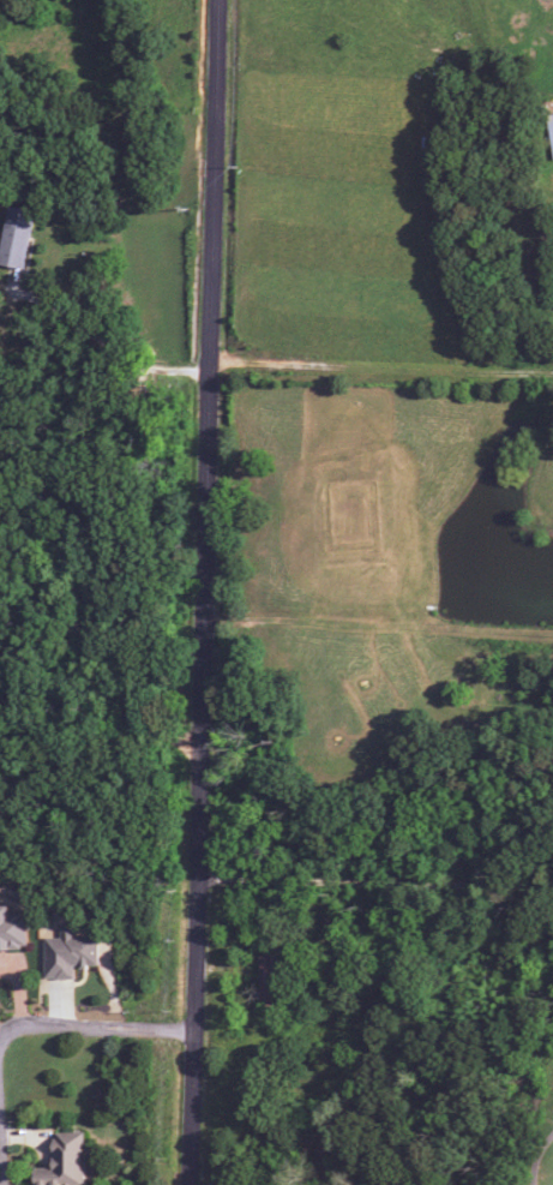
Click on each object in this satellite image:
road: (416, 55)
building: (549, 131)
building: (16, 238)
road: (203, 592)
road: (375, 881)
building: (12, 930)
building: (68, 954)
building: (269, 980)
road: (85, 1025)
park: (540, 1133)
road: (0, 1151)
building: (65, 1161)

